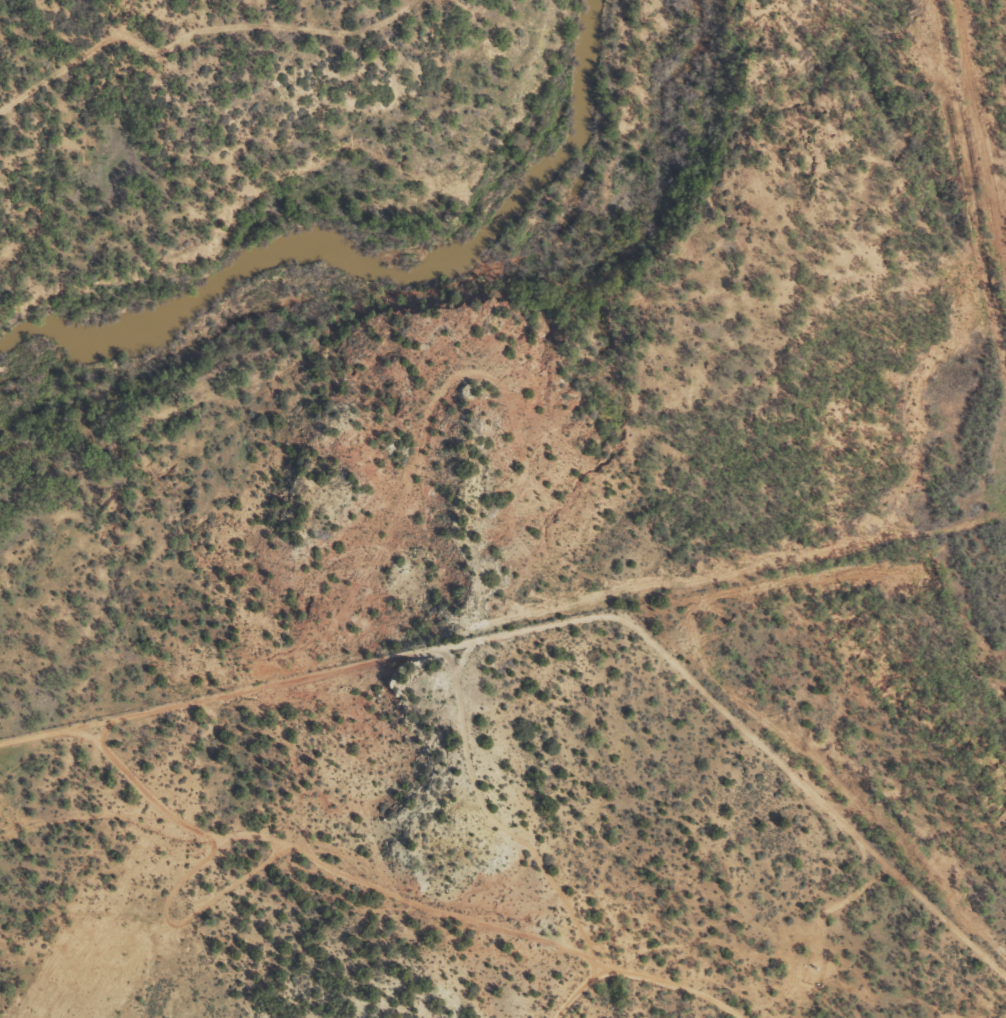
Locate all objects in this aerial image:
river: (372, 266)
road: (627, 977)

